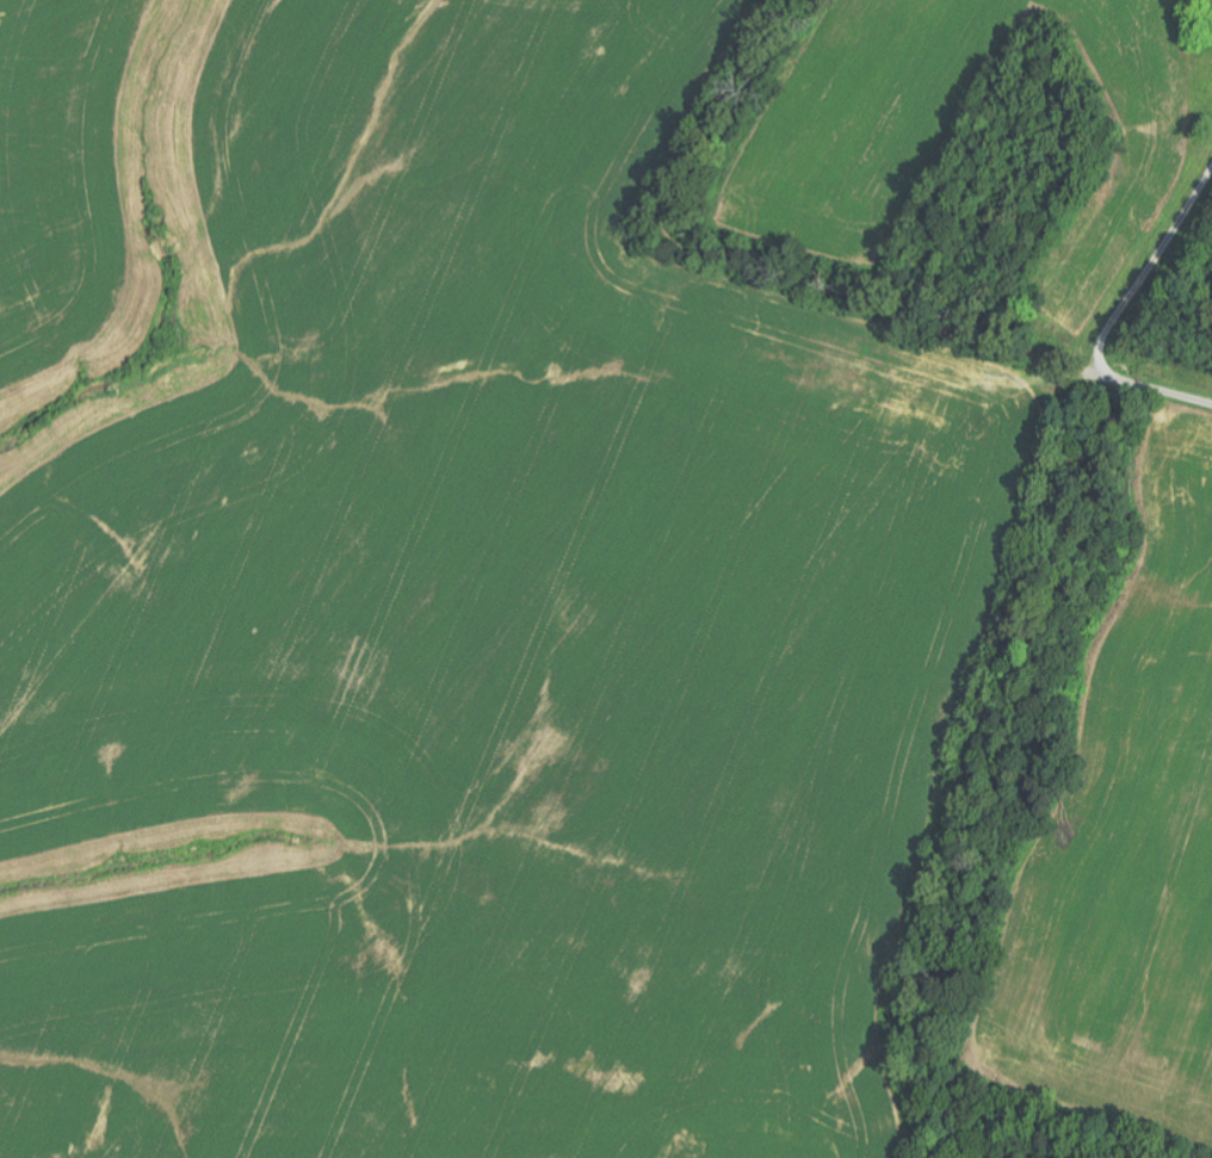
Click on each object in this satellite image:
road: (1174, 395)

